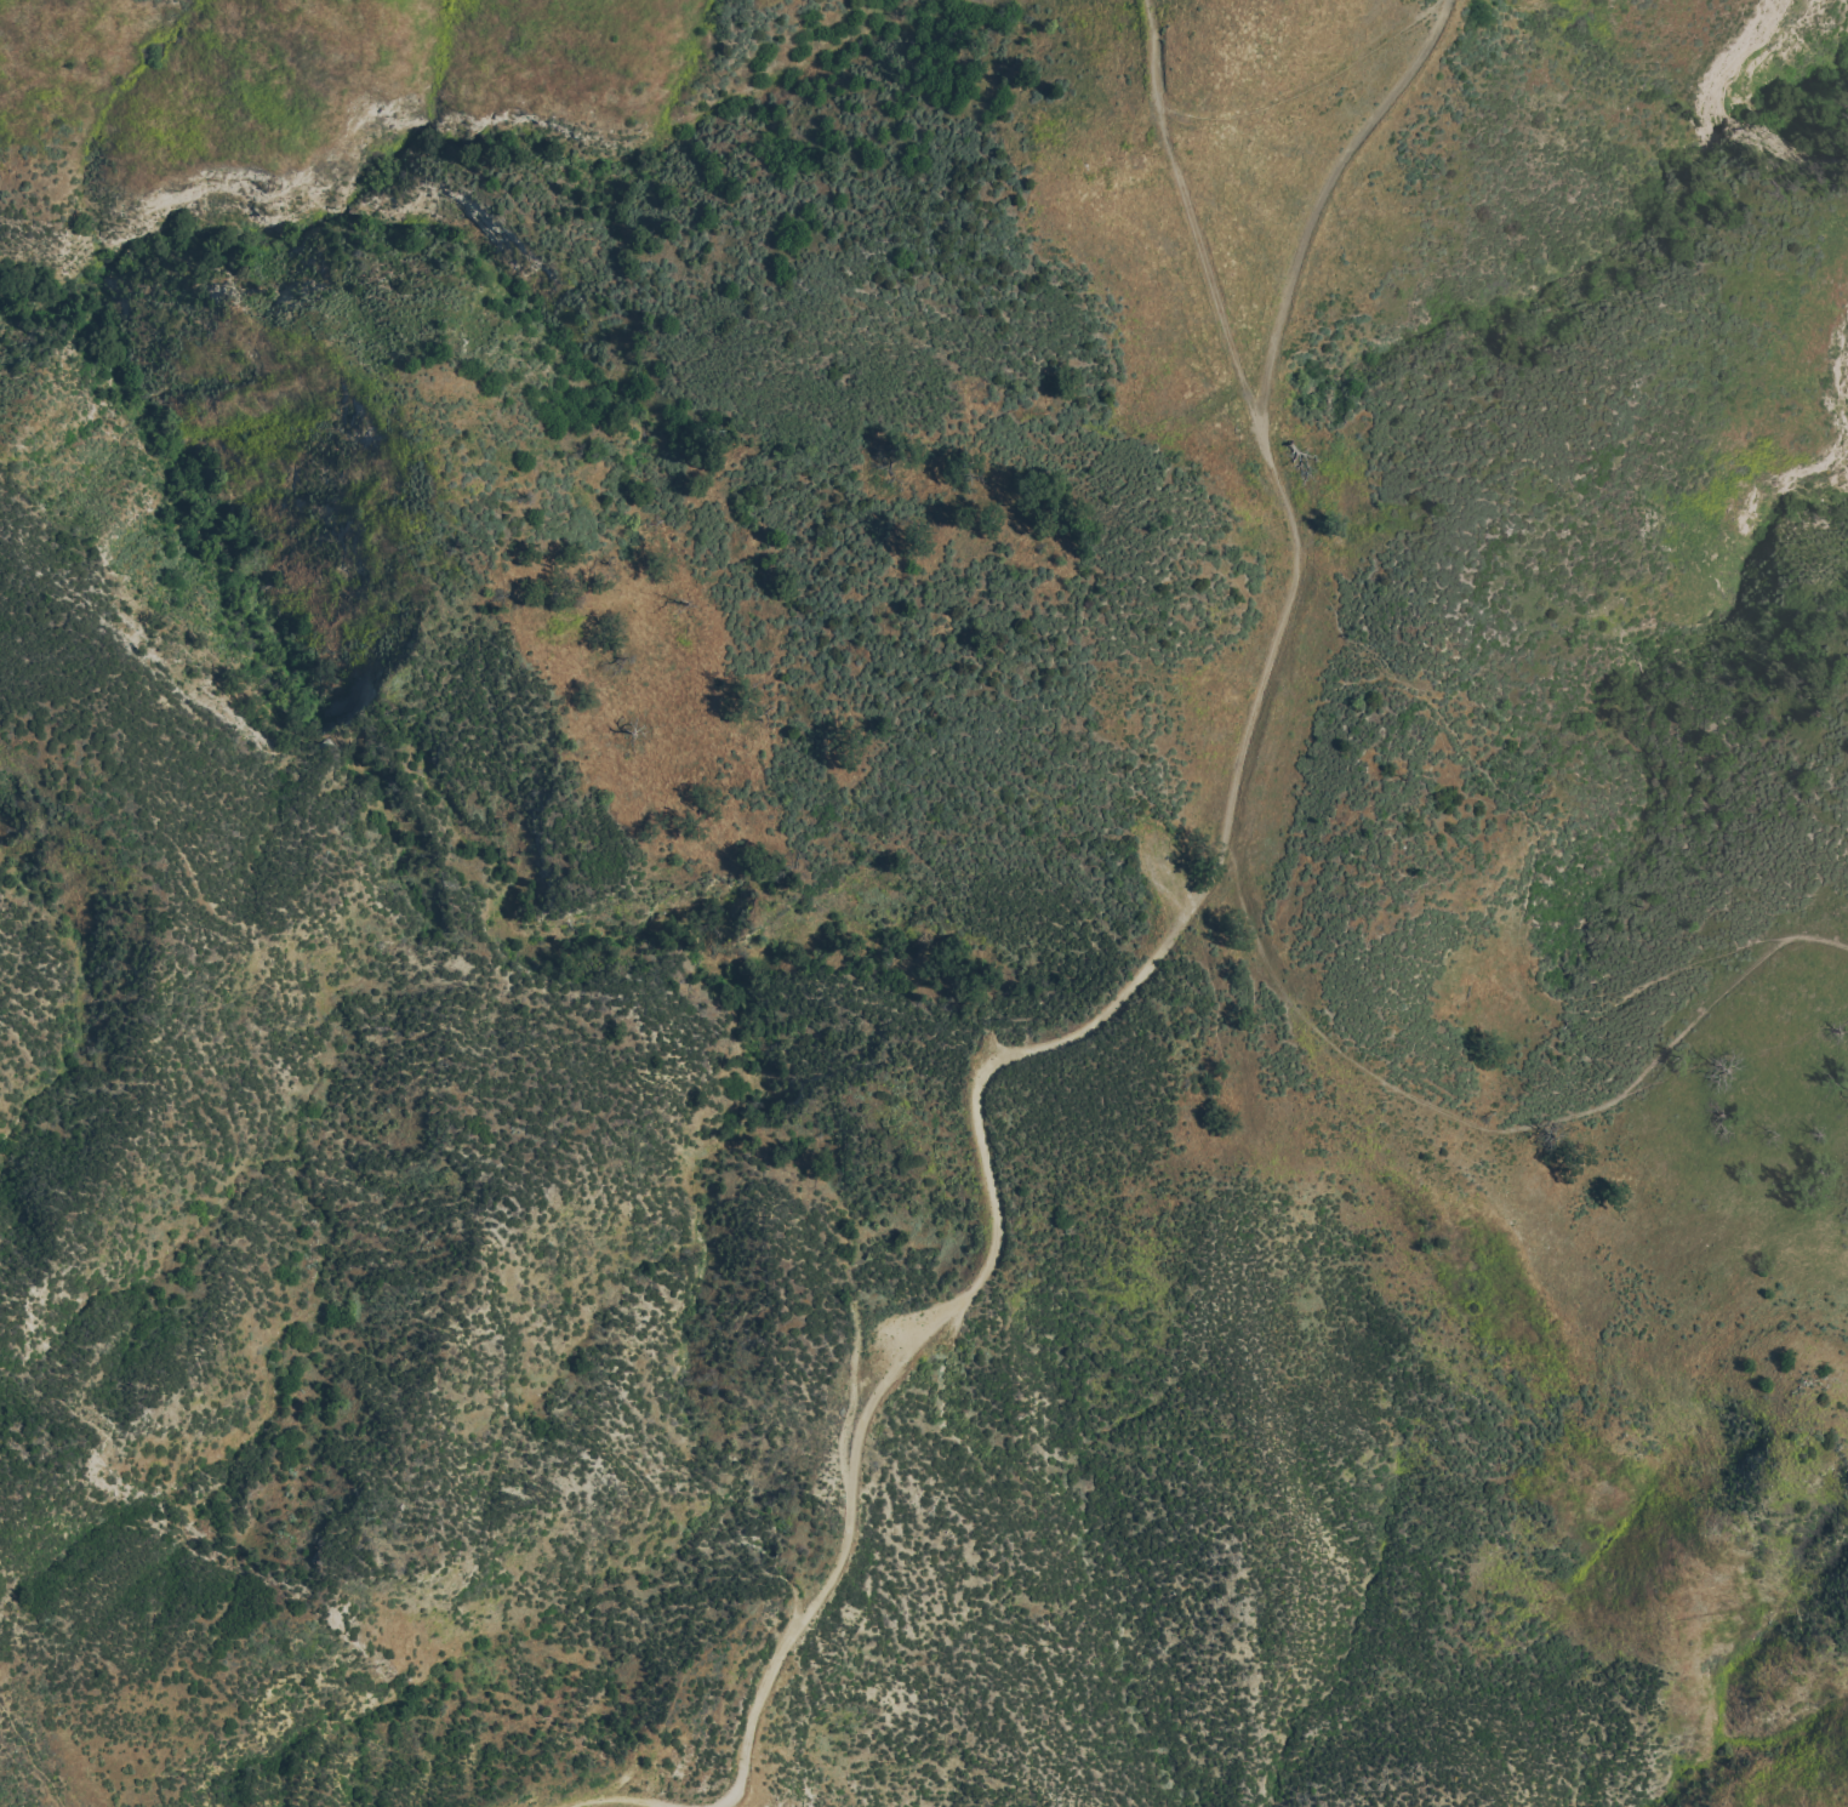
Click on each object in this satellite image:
road: (1190, 222)
road: (1496, 808)
road: (1532, 849)
road: (1094, 1017)
road: (1499, 1129)
road: (28, 1756)

